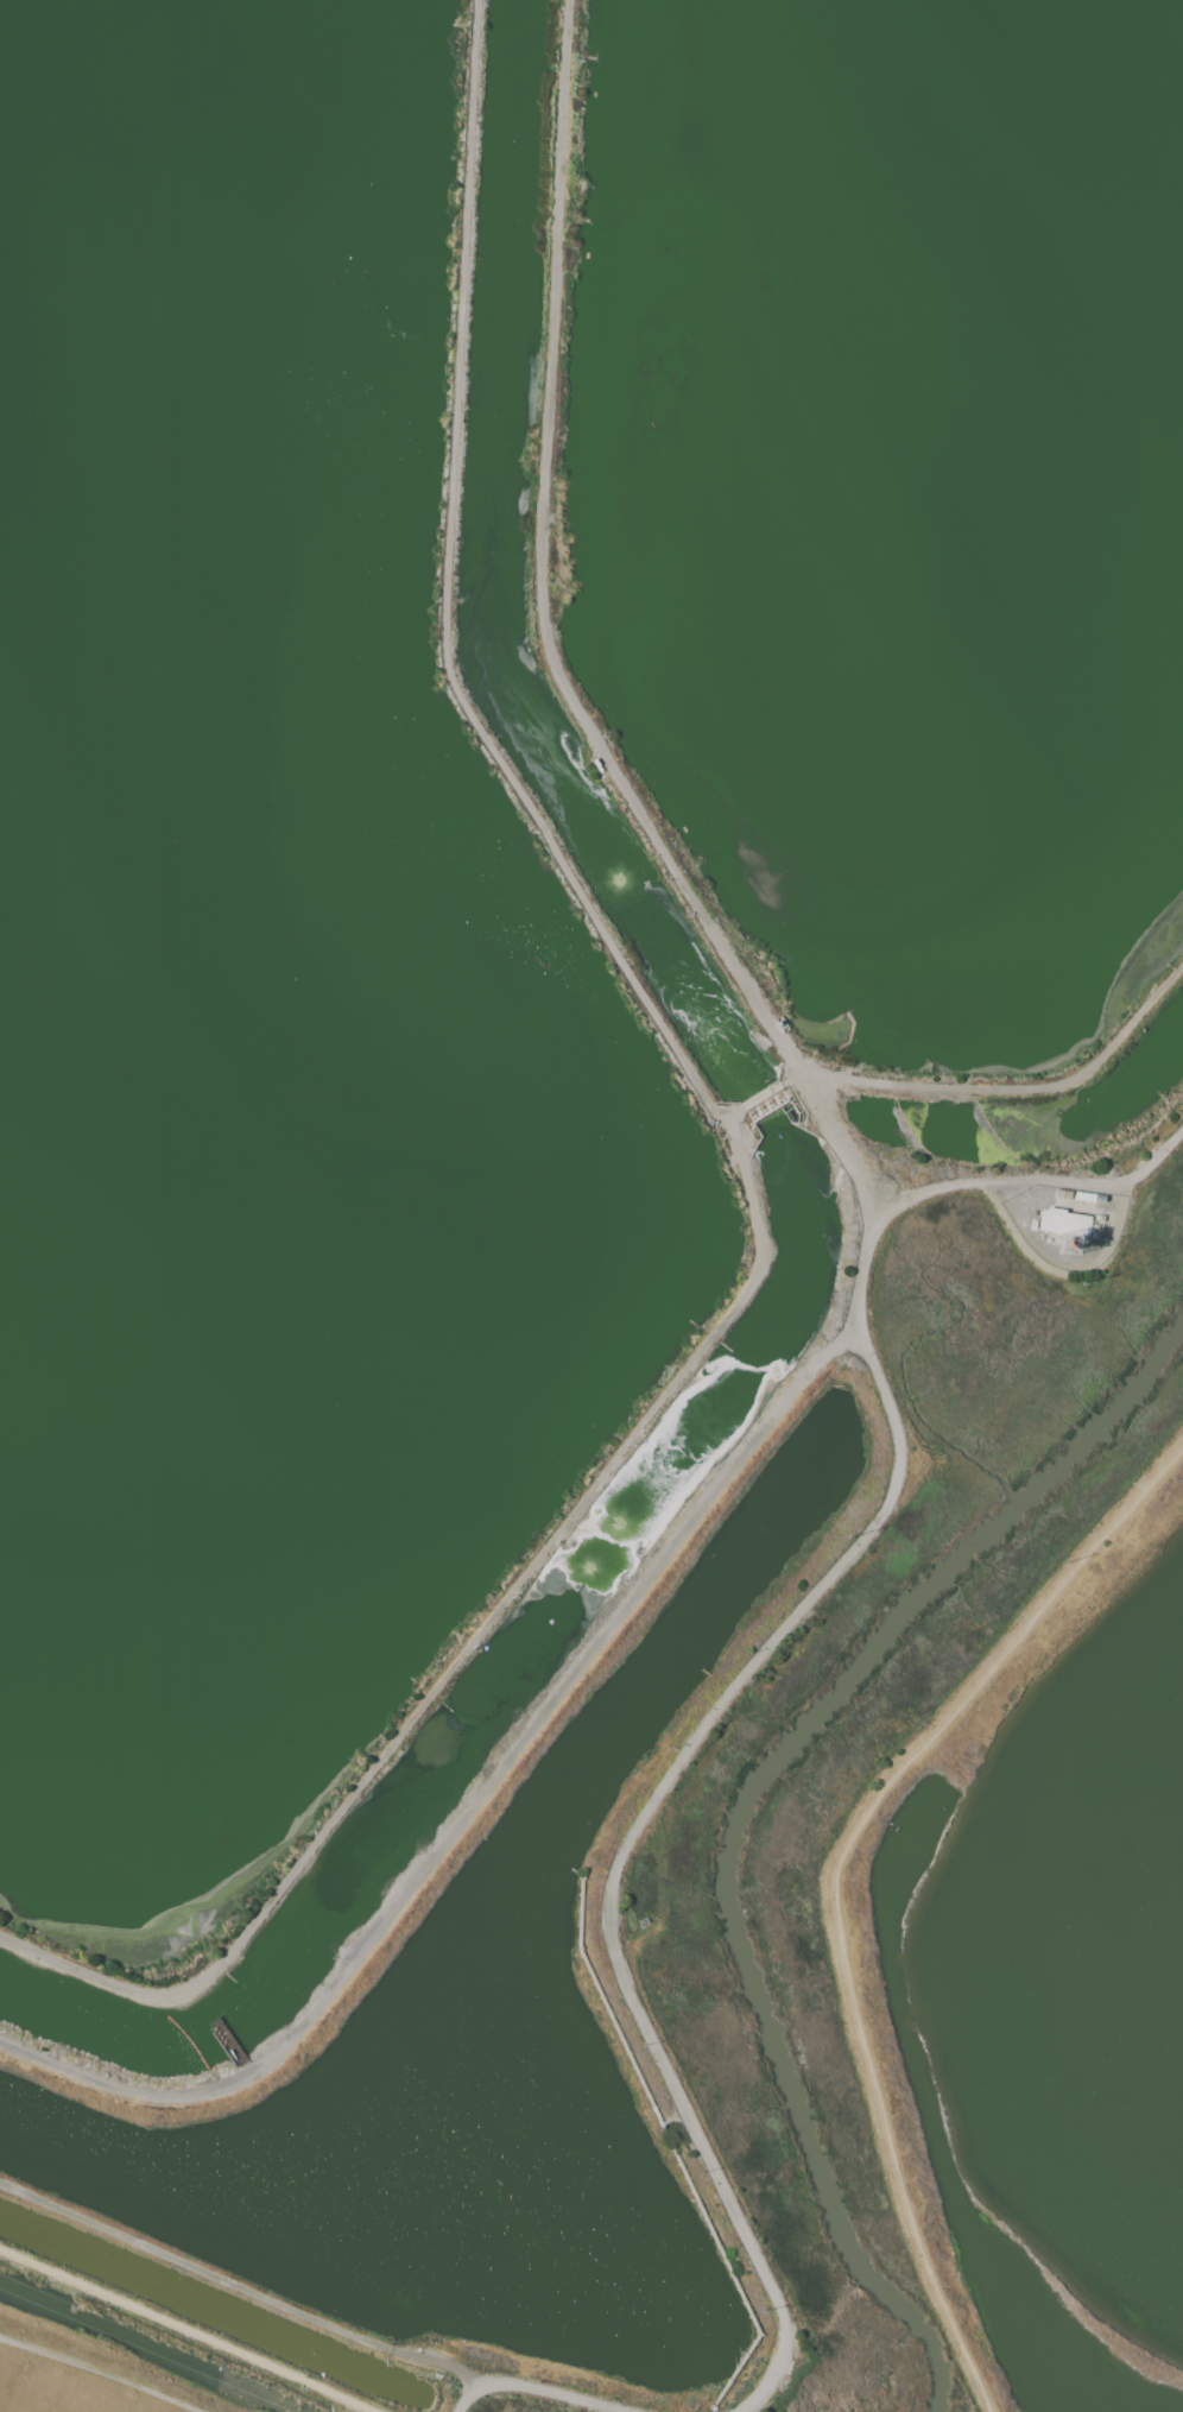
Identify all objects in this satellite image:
road: (539, 570)
road: (473, 719)
road: (1014, 1090)
building: (1076, 1229)
road: (608, 1633)
road: (462, 1650)
road: (622, 1848)
road: (835, 1879)
pier: (230, 2048)
road: (240, 2288)
road: (185, 2329)
road: (101, 2373)
landfill: (83, 2376)
road: (534, 2389)

